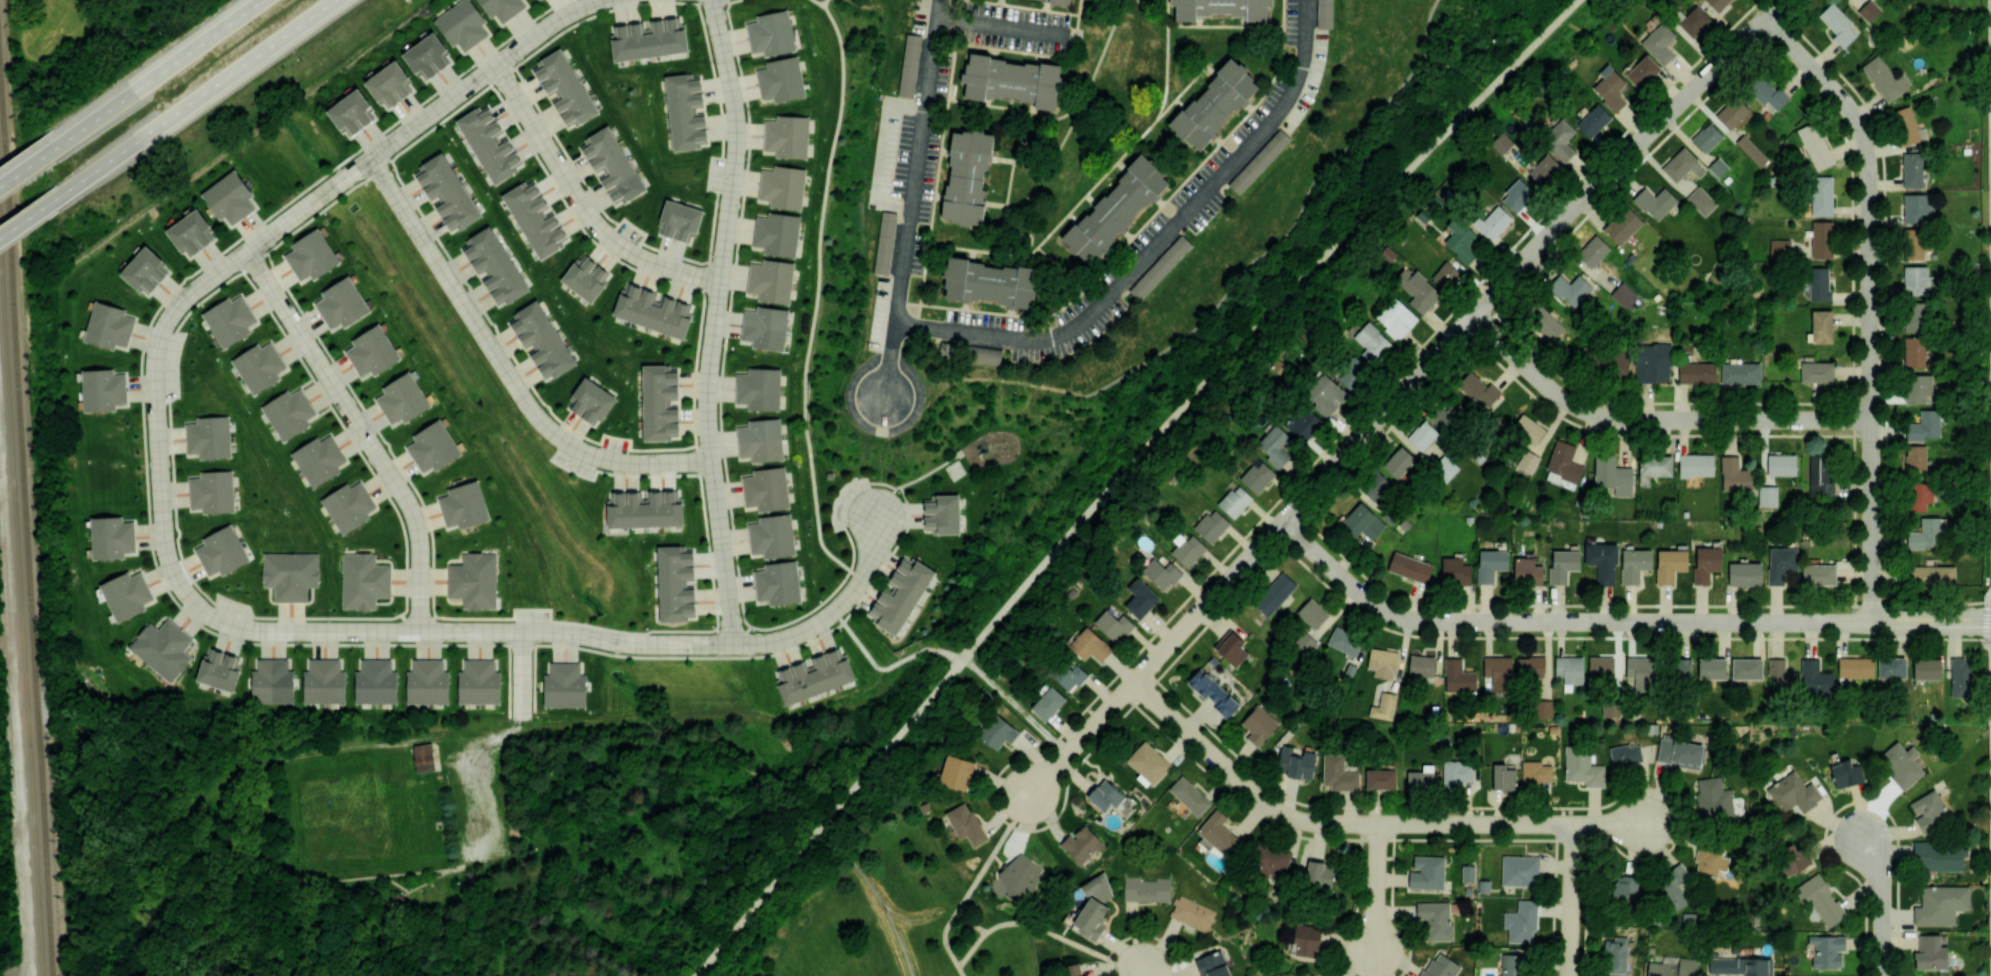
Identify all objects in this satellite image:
building: (1717, 4)
building: (501, 8)
building: (1221, 8)
building: (1869, 10)
building: (1324, 14)
building: (1694, 21)
road: (1077, 22)
building: (462, 24)
building: (1837, 24)
road: (1002, 26)
building: (770, 33)
building: (647, 40)
building: (1659, 43)
building: (426, 56)
road: (1165, 61)
building: (908, 65)
road: (157, 71)
building: (1642, 71)
building: (1884, 78)
building: (780, 79)
building: (1013, 80)
building: (389, 84)
building: (564, 88)
building: (1609, 88)
building: (1767, 92)
road: (195, 97)
building: (1213, 105)
building: (684, 111)
building: (1731, 112)
building: (1593, 120)
building: (1907, 125)
building: (787, 136)
building: (1707, 137)
building: (1560, 140)
building: (1501, 143)
building: (489, 145)
building: (1815, 145)
road: (380, 148)
building: (1751, 150)
building: (1258, 161)
road: (938, 162)
road: (28, 163)
building: (612, 165)
building: (1682, 165)
building: (1717, 166)
building: (1544, 169)
building: (1912, 169)
railway: (4, 175)
building: (966, 176)
building: (782, 186)
building: (446, 192)
road: (1085, 193)
building: (1517, 195)
building: (1821, 195)
building: (229, 197)
road: (912, 200)
building: (1701, 200)
building: (1654, 201)
road: (581, 203)
road: (1990, 203)
building: (1916, 207)
building: (1115, 209)
road: (29, 215)
building: (534, 219)
building: (678, 220)
building: (1493, 221)
road: (1294, 223)
building: (1622, 224)
road: (1140, 227)
building: (190, 232)
building: (776, 233)
building: (1821, 239)
building: (1460, 240)
building: (885, 242)
road: (1155, 244)
building: (1915, 244)
building: (1779, 249)
building: (1592, 251)
building: (310, 255)
building: (494, 266)
building: (1160, 267)
building: (144, 270)
building: (1445, 275)
building: (584, 279)
building: (1915, 279)
building: (770, 280)
building: (990, 283)
building: (1818, 283)
building: (1571, 289)
building: (1417, 290)
road: (816, 294)
building: (1623, 295)
road: (1869, 301)
building: (341, 303)
building: (652, 311)
building: (1915, 316)
building: (1395, 317)
building: (229, 320)
road: (715, 320)
road: (1263, 320)
building: (1544, 321)
building: (108, 326)
building: (1821, 326)
building: (765, 327)
road: (1452, 337)
building: (541, 340)
building: (1372, 343)
building: (371, 351)
building: (1915, 352)
building: (986, 355)
building: (1652, 360)
building: (1621, 365)
building: (259, 366)
road: (503, 367)
building: (1817, 371)
building: (1351, 372)
building: (1696, 372)
building: (1740, 372)
road: (988, 379)
building: (1917, 387)
building: (759, 388)
building: (1477, 388)
building: (103, 389)
building: (1324, 394)
building: (402, 398)
building: (590, 400)
building: (658, 402)
building: (289, 413)
building: (1448, 416)
road: (1652, 420)
building: (1303, 423)
building: (1924, 425)
road: (350, 431)
building: (1422, 434)
building: (208, 437)
building: (760, 439)
building: (1528, 442)
building: (433, 446)
building: (1273, 446)
building: (1916, 458)
building: (318, 459)
building: (1563, 461)
building: (1398, 462)
building: (1696, 464)
building: (1655, 465)
building: (1445, 467)
building: (1734, 474)
building: (1257, 475)
building: (1612, 475)
building: (1819, 478)
road: (915, 479)
building: (1766, 479)
road: (881, 483)
building: (1376, 487)
building: (766, 489)
building: (212, 491)
building: (1920, 495)
building: (1234, 500)
park: (754, 503)
building: (348, 505)
building: (463, 505)
building: (644, 509)
building: (941, 513)
building: (1362, 522)
building: (1211, 525)
building: (1925, 533)
building: (771, 535)
building: (112, 537)
building: (1187, 549)
building: (221, 551)
building: (1602, 560)
building: (1706, 563)
building: (1780, 563)
building: (1490, 564)
building: (1562, 564)
building: (1669, 564)
building: (1634, 565)
building: (1409, 567)
building: (1527, 570)
building: (1455, 571)
building: (1161, 573)
building: (1744, 573)
building: (290, 574)
building: (1819, 574)
building: (363, 580)
building: (473, 580)
building: (777, 582)
building: (675, 583)
building: (1274, 593)
building: (126, 594)
building: (900, 595)
building: (1140, 597)
road: (834, 611)
railway: (29, 613)
road: (187, 613)
building: (1312, 613)
road: (1619, 622)
railway: (20, 625)
road: (303, 625)
building: (1113, 625)
road: (1625, 636)
building: (1344, 641)
building: (1304, 642)
building: (1090, 645)
building: (1231, 647)
building: (162, 648)
building: (1382, 662)
building: (1421, 665)
road: (887, 666)
building: (1855, 666)
building: (1891, 666)
building: (1530, 667)
building: (1600, 667)
building: (1681, 668)
building: (1711, 668)
building: (1746, 668)
building: (1927, 668)
building: (218, 669)
building: (1569, 670)
building: (1498, 674)
building: (1641, 674)
building: (1781, 675)
road: (514, 676)
building: (813, 676)
building: (1070, 676)
building: (1458, 676)
building: (1815, 677)
building: (1960, 677)
building: (272, 681)
building: (323, 681)
building: (375, 682)
building: (427, 682)
building: (478, 682)
building: (564, 685)
building: (1213, 692)
building: (1543, 700)
building: (1047, 703)
building: (1383, 706)
road: (1016, 707)
building: (1610, 707)
building: (1258, 725)
park: (40, 727)
road: (494, 731)
building: (996, 731)
road: (1081, 741)
road: (312, 752)
building: (1679, 752)
building: (1625, 754)
building: (425, 758)
building: (1148, 762)
building: (1295, 762)
building: (1900, 764)
building: (1582, 766)
building: (956, 772)
building: (1337, 773)
building: (1455, 773)
building: (1535, 773)
building: (1845, 773)
building: (1503, 777)
building: (1380, 778)
building: (1420, 781)
road: (1990, 788)
building: (1792, 794)
road: (478, 795)
building: (1105, 795)
building: (1189, 795)
building: (1713, 798)
parking lot: (477, 800)
building: (1929, 811)
road: (828, 817)
park: (366, 819)
building: (965, 823)
road: (1328, 825)
road: (1619, 825)
building: (1218, 833)
building: (1081, 844)
building: (274, 856)
building: (1937, 857)
building: (1791, 859)
building: (1710, 860)
building: (1271, 861)
building: (1519, 870)
building: (1427, 872)
building: (1468, 872)
building: (1318, 874)
building: (1021, 876)
road: (974, 886)
building: (1624, 886)
building: (1671, 888)
building: (1146, 889)
road: (1376, 891)
park: (863, 898)
building: (1821, 899)
road: (1571, 900)
road: (1881, 902)
building: (1940, 904)
building: (393, 906)
building: (1094, 906)
building: (1192, 913)
building: (1435, 919)
building: (1521, 921)
road: (1044, 930)
building: (1306, 940)
building: (1827, 950)
building: (1930, 952)
building: (1616, 956)
building: (1212, 964)
building: (1510, 964)
building: (1738, 965)
building: (1440, 966)
building: (1673, 967)
building: (1073, 969)
road: (1144, 972)
building: (1306, 974)

